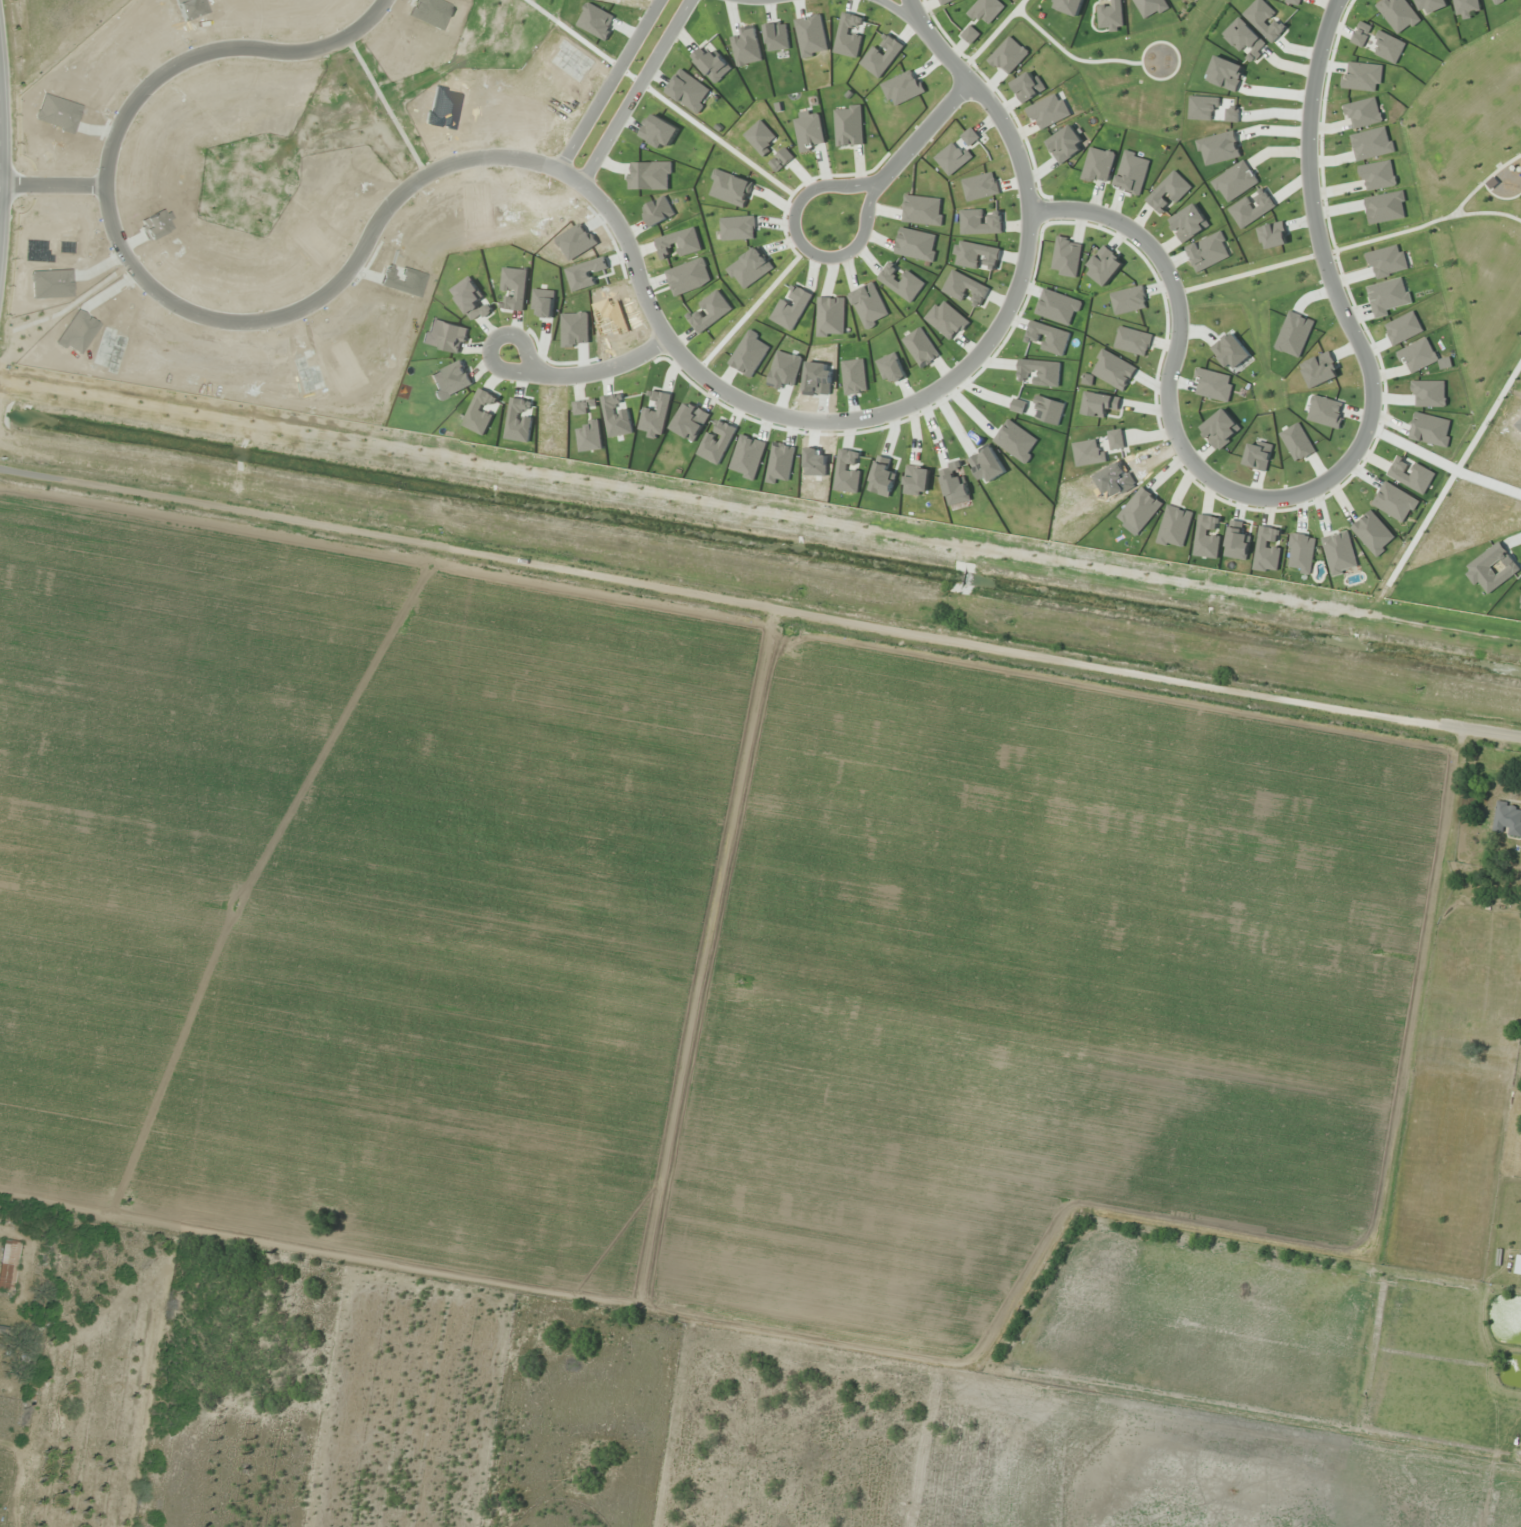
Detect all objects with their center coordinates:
road: (1338, 2)
road: (906, 14)
road: (992, 35)
road: (214, 50)
road: (1072, 56)
road: (608, 86)
road: (636, 93)
road: (925, 132)
road: (0, 161)
road: (1484, 182)
park: (1475, 203)
road: (1426, 224)
road: (801, 245)
road: (1323, 253)
road: (636, 270)
road: (1244, 274)
road: (1443, 462)
road: (1455, 474)
road: (1326, 480)
road: (719, 598)
road: (1480, 729)
building: (1507, 818)
building: (8, 1263)
building: (1518, 1264)
building: (4, 1383)

